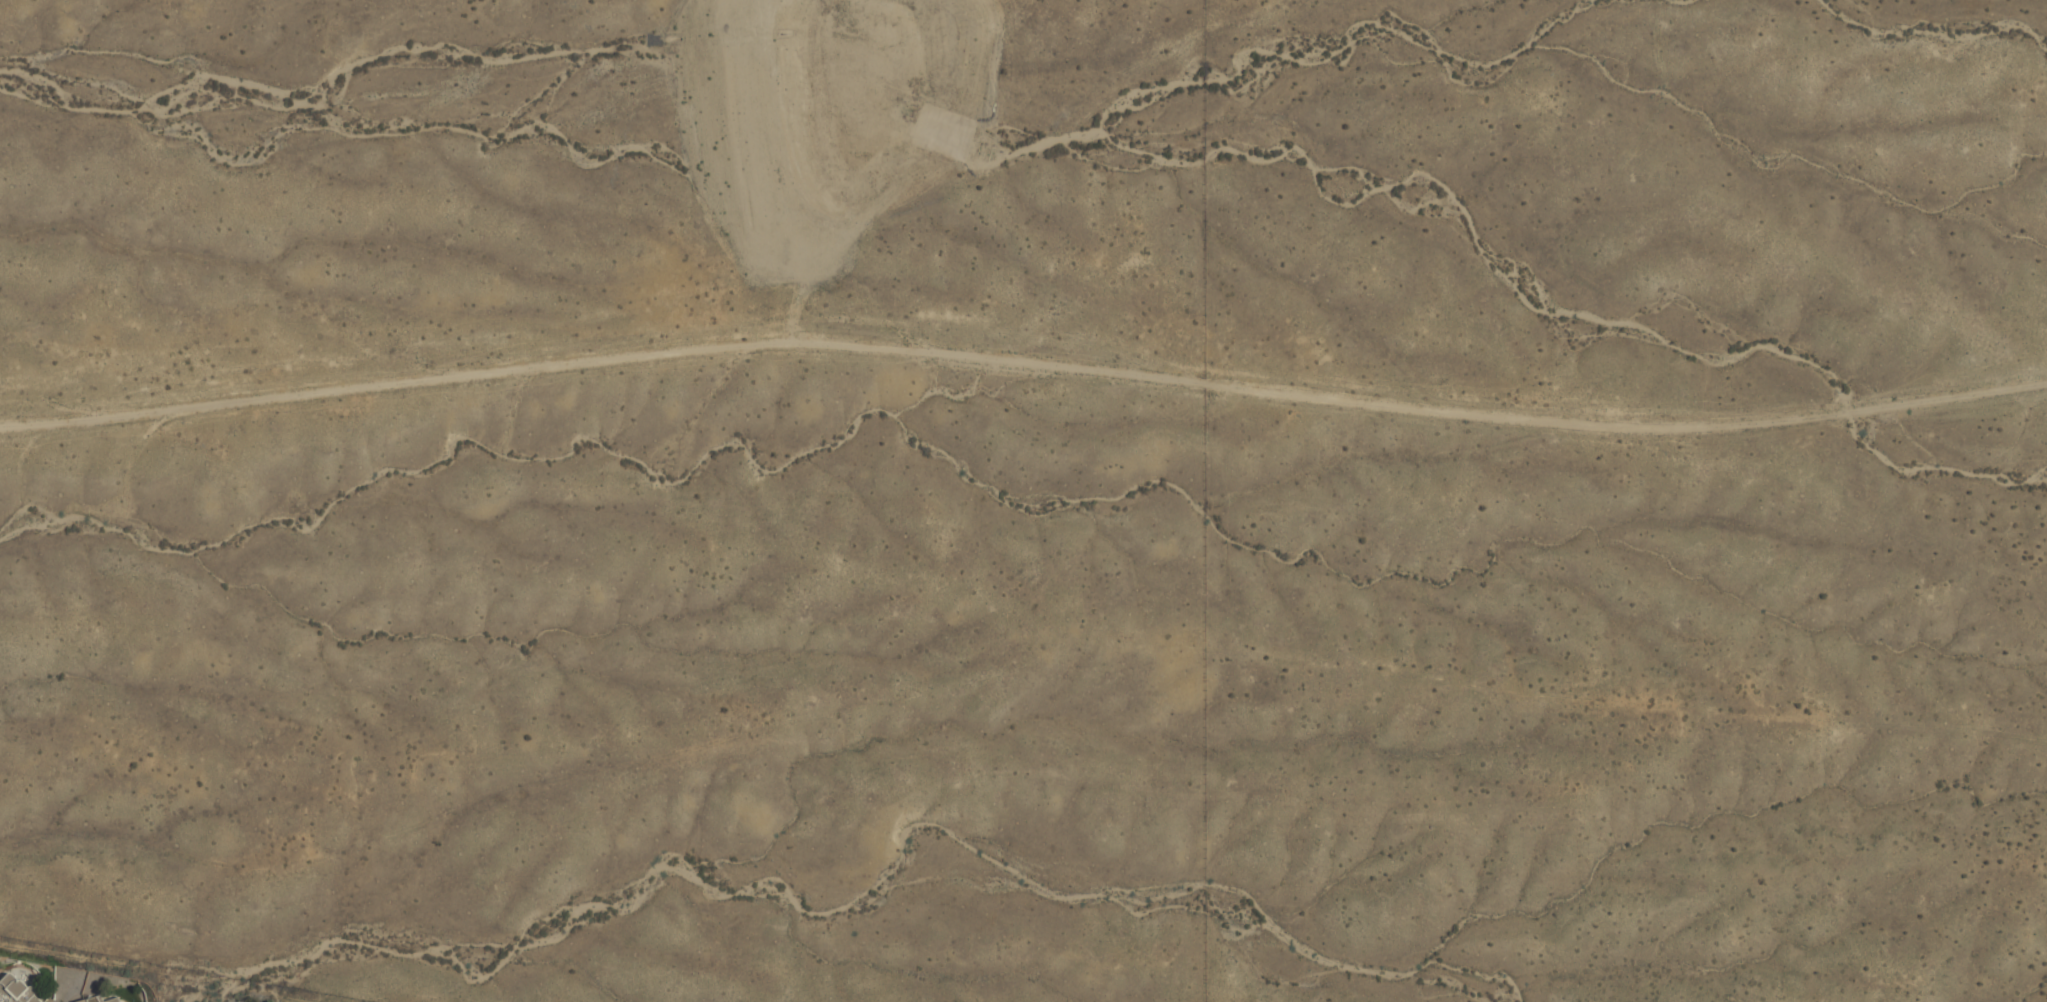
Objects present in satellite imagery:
road: (1023, 365)
building: (15, 989)
building: (100, 999)

